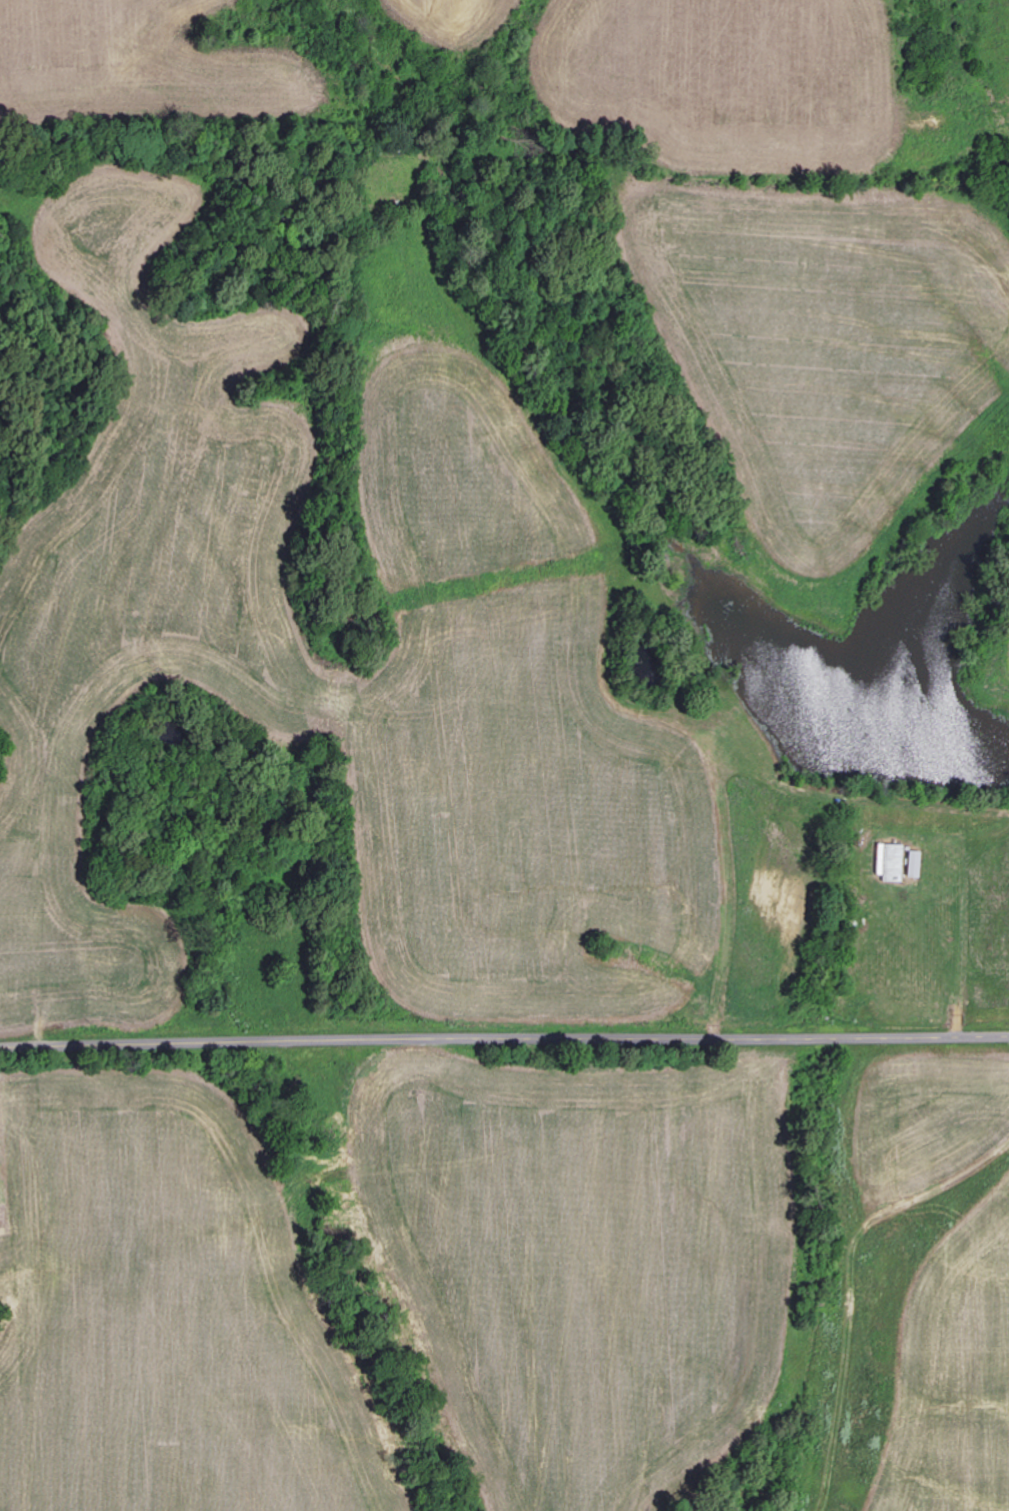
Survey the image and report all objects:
building: (887, 863)
building: (911, 865)
road: (504, 1034)

